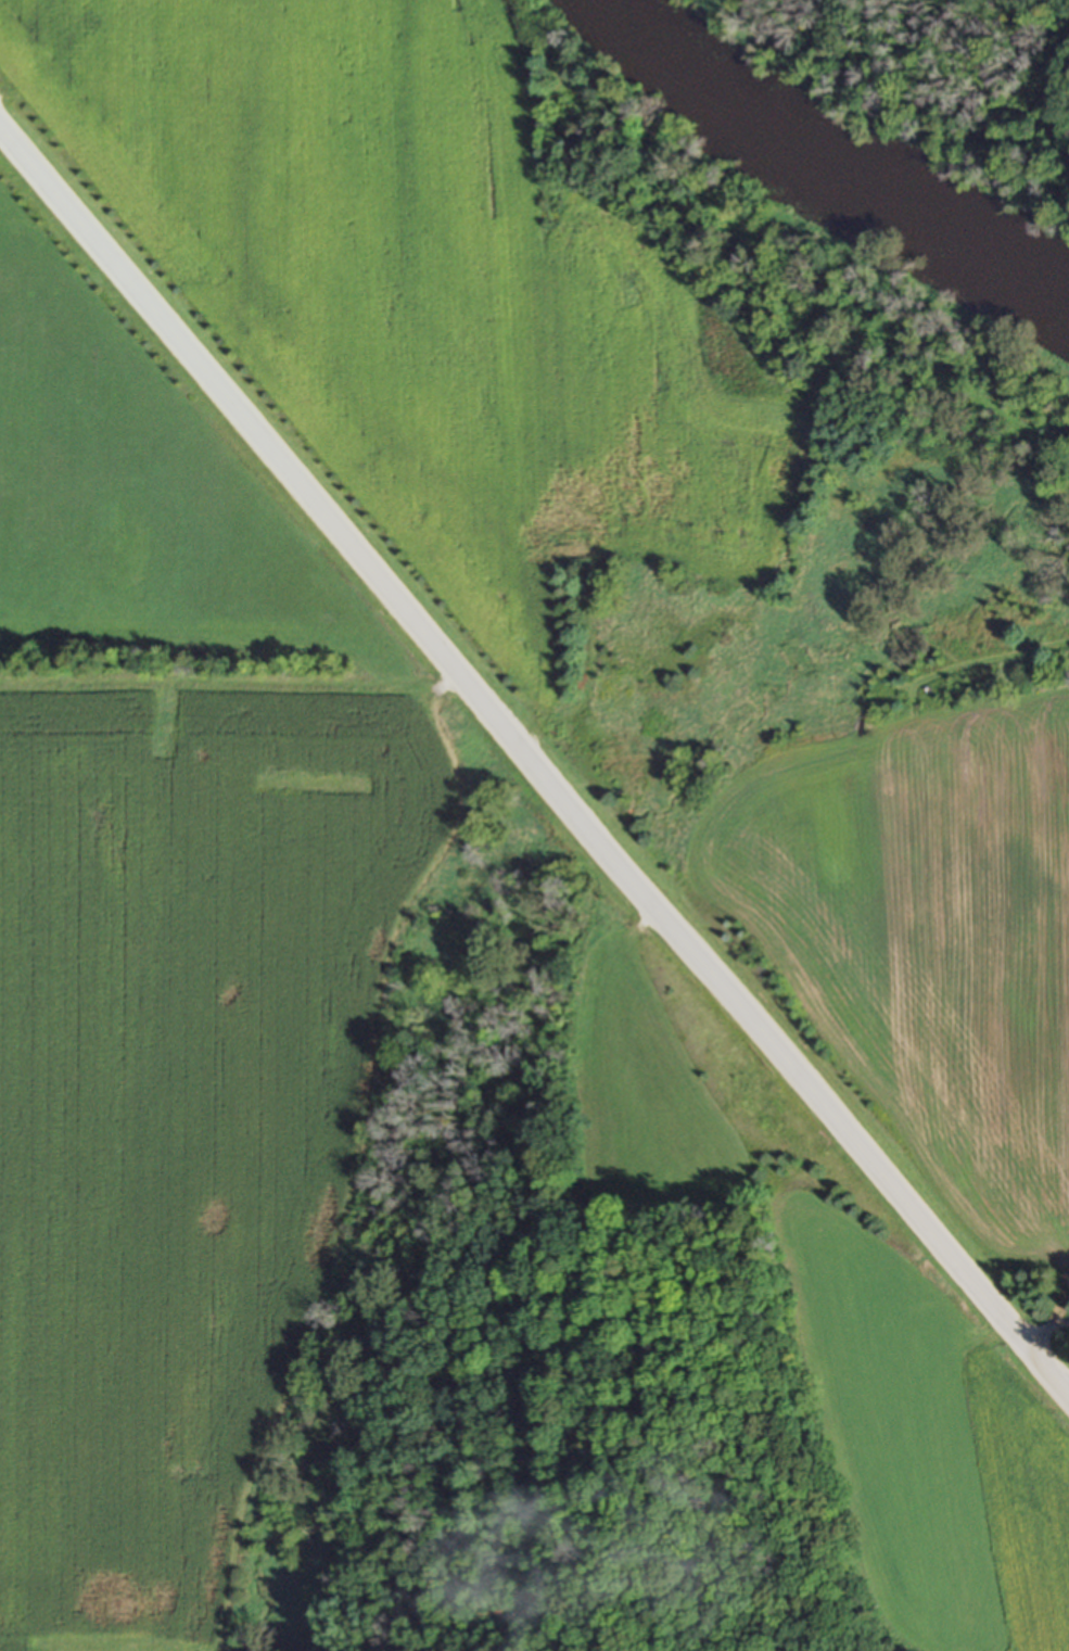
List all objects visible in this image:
river: (827, 175)
road: (534, 762)
road: (1042, 1328)

